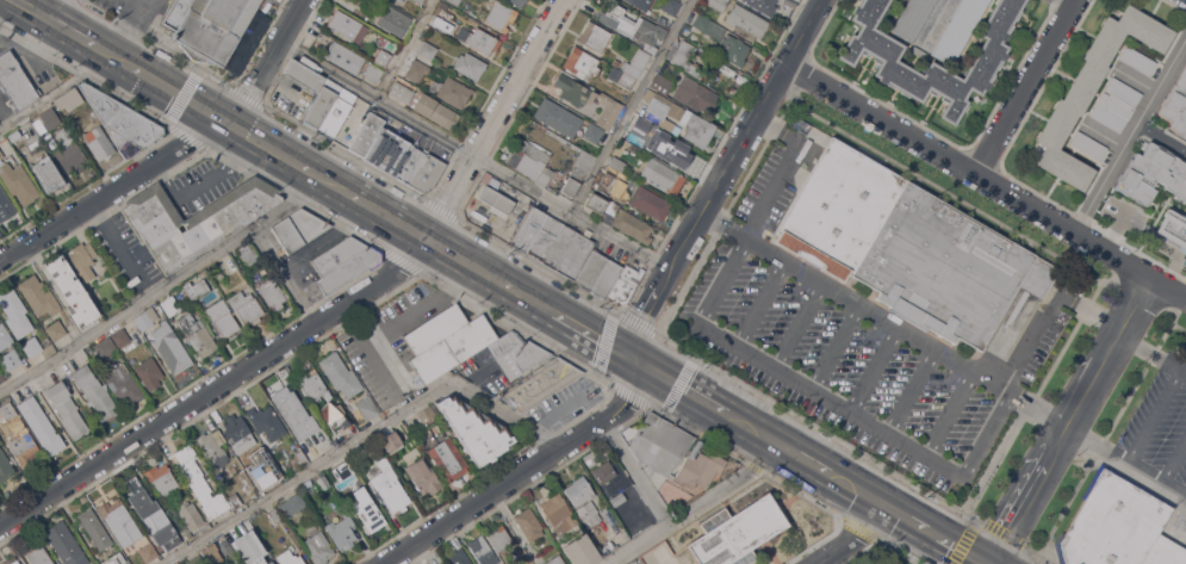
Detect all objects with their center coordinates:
building: (645, 0)
building: (418, 1)
building: (454, 1)
building: (519, 1)
building: (635, 1)
road: (139, 2)
road: (147, 2)
building: (763, 5)
road: (1064, 5)
building: (671, 6)
road: (27, 8)
road: (48, 8)
building: (175, 14)
building: (501, 16)
building: (740, 18)
building: (912, 18)
building: (662, 19)
building: (393, 20)
building: (439, 23)
building: (347, 25)
building: (708, 26)
building: (462, 30)
building: (642, 30)
building: (957, 30)
building: (223, 31)
road: (68, 32)
road: (808, 32)
road: (131, 33)
building: (594, 36)
road: (20, 41)
building: (482, 41)
road: (8, 43)
road: (405, 49)
building: (733, 49)
building: (428, 50)
building: (343, 57)
building: (381, 57)
building: (685, 58)
road: (114, 60)
building: (1137, 60)
building: (616, 61)
building: (1185, 61)
building: (580, 62)
building: (934, 62)
road: (271, 63)
building: (637, 63)
building: (470, 64)
building: (416, 70)
building: (373, 72)
building: (303, 75)
building: (621, 78)
building: (663, 80)
building: (15, 81)
road: (1027, 86)
building: (573, 89)
building: (1092, 89)
road: (52, 92)
building: (402, 92)
building: (454, 92)
road: (179, 95)
building: (695, 95)
building: (69, 99)
building: (322, 104)
building: (1116, 104)
building: (1175, 105)
road: (632, 106)
building: (435, 111)
building: (608, 111)
building: (336, 113)
road: (5, 114)
building: (50, 118)
building: (120, 118)
building: (677, 118)
building: (565, 120)
road: (241, 130)
building: (646, 132)
building: (367, 134)
road: (1129, 134)
road: (1162, 135)
building: (13, 136)
building: (99, 142)
building: (1088, 144)
building: (390, 149)
building: (534, 150)
building: (594, 151)
building: (69, 153)
building: (1, 155)
road: (285, 155)
road: (478, 159)
building: (616, 163)
building: (580, 165)
building: (530, 166)
building: (421, 171)
road: (970, 171)
building: (48, 174)
building: (1153, 174)
building: (662, 175)
road: (200, 178)
building: (611, 180)
road: (333, 181)
building: (18, 182)
building: (570, 185)
road: (112, 192)
building: (504, 197)
building: (650, 203)
building: (5, 205)
road: (708, 212)
road: (390, 215)
building: (619, 217)
building: (195, 219)
road: (725, 225)
building: (298, 229)
building: (528, 229)
building: (1172, 230)
building: (546, 238)
road: (113, 241)
building: (907, 246)
building: (249, 253)
building: (570, 253)
building: (83, 259)
building: (1184, 261)
building: (343, 262)
road: (472, 262)
road: (45, 273)
building: (600, 274)
road: (292, 275)
building: (627, 280)
road: (166, 287)
building: (195, 287)
road: (1168, 287)
building: (73, 291)
building: (272, 292)
building: (38, 296)
road: (535, 299)
building: (170, 304)
road: (760, 305)
building: (246, 306)
building: (15, 312)
road: (335, 315)
building: (223, 317)
road: (882, 317)
road: (799, 328)
building: (56, 329)
building: (197, 334)
building: (120, 336)
building: (5, 337)
road: (600, 337)
building: (163, 340)
building: (446, 341)
building: (507, 343)
parking lot: (852, 343)
building: (37, 347)
building: (105, 347)
road: (837, 349)
road: (1109, 352)
road: (1151, 353)
building: (522, 358)
building: (11, 359)
traffic signals: (644, 364)
road: (873, 371)
building: (149, 372)
building: (340, 374)
building: (1, 377)
building: (540, 383)
building: (123, 384)
building: (313, 386)
road: (685, 388)
building: (95, 391)
road: (911, 393)
road: (827, 403)
building: (367, 407)
building: (67, 409)
building: (293, 413)
building: (427, 413)
road: (1043, 413)
road: (1154, 415)
road: (949, 416)
building: (335, 417)
building: (265, 420)
building: (41, 424)
parking lot: (1155, 427)
building: (476, 429)
road: (762, 433)
building: (238, 434)
building: (19, 436)
road: (364, 438)
building: (390, 441)
building: (657, 442)
building: (212, 447)
building: (300, 455)
building: (448, 458)
road: (1126, 460)
road: (813, 464)
road: (1175, 464)
building: (5, 466)
building: (344, 467)
building: (234, 469)
building: (700, 469)
building: (421, 471)
building: (603, 471)
road: (524, 472)
road: (635, 472)
building: (162, 479)
building: (243, 479)
building: (323, 482)
building: (203, 484)
building: (390, 486)
building: (263, 489)
building: (579, 490)
road: (863, 494)
road: (1029, 494)
building: (619, 498)
building: (235, 500)
building: (291, 504)
road: (693, 506)
building: (368, 512)
building: (559, 513)
building: (588, 514)
building: (151, 515)
building: (190, 515)
building: (275, 515)
building: (120, 521)
road: (912, 522)
building: (529, 523)
building: (1118, 525)
building: (204, 527)
building: (94, 528)
building: (186, 532)
building: (342, 532)
building: (737, 532)
power substation: (737, 532)
road: (932, 534)
building: (499, 539)
road: (857, 539)
building: (66, 544)
building: (250, 546)
building: (608, 546)
building: (318, 547)
building: (225, 548)
building: (580, 550)
road: (961, 550)
building: (483, 551)
building: (148, 552)
building: (38, 553)
building: (211, 553)
building: (459, 557)
building: (290, 558)
building: (114, 559)
building: (195, 559)
building: (555, 559)
building: (12, 560)
building: (864, 563)

